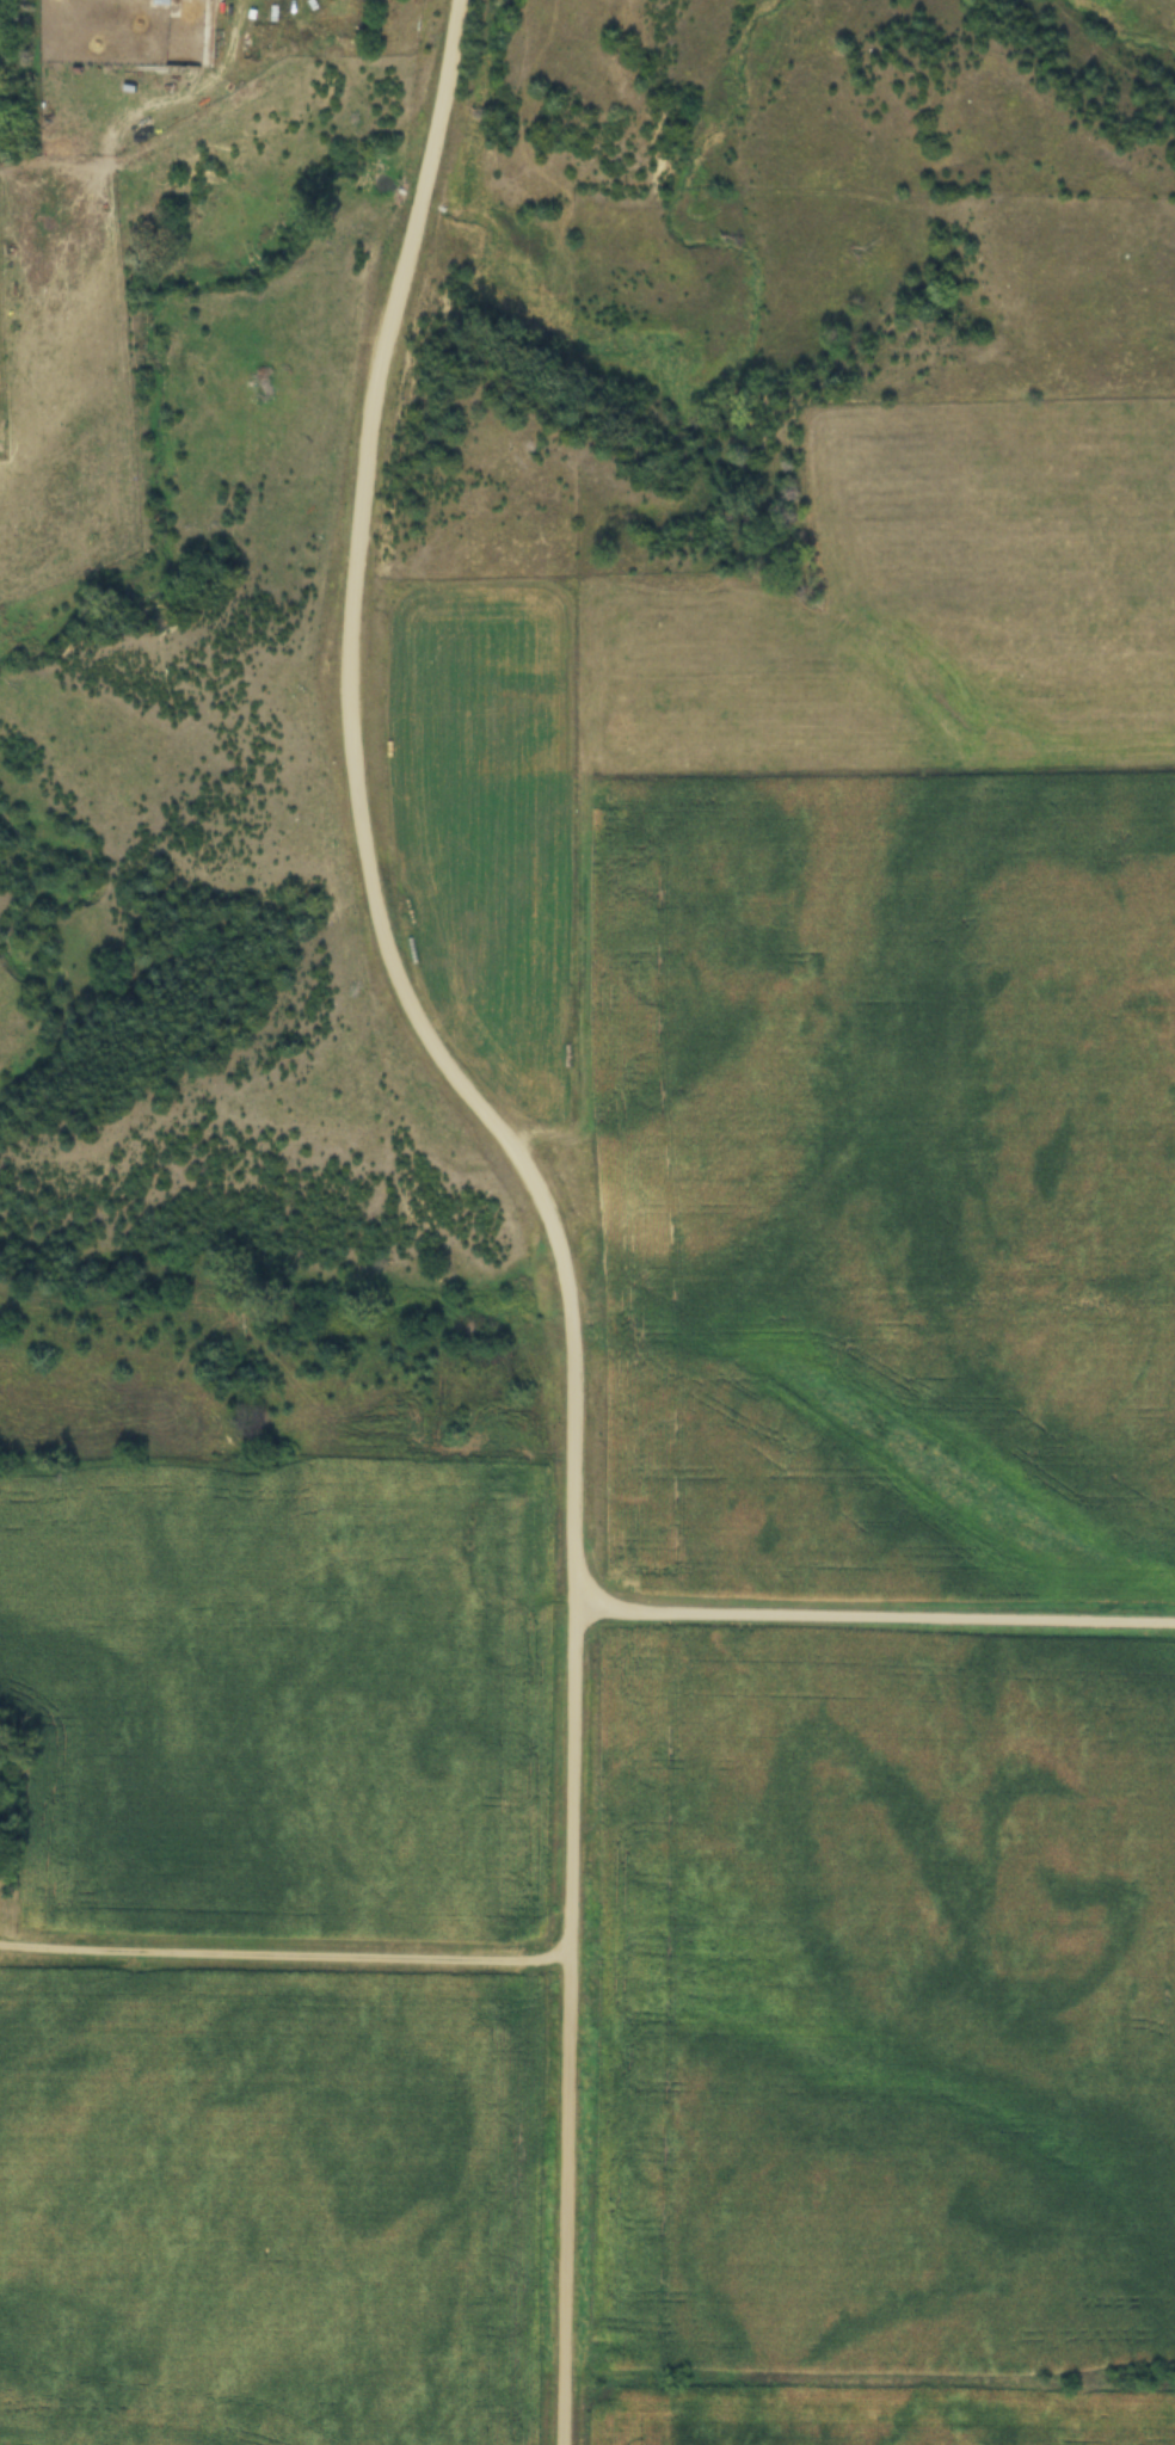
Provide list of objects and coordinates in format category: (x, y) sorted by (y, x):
building: (160, 4)
building: (299, 7)
road: (545, 1195)
road: (874, 1620)

